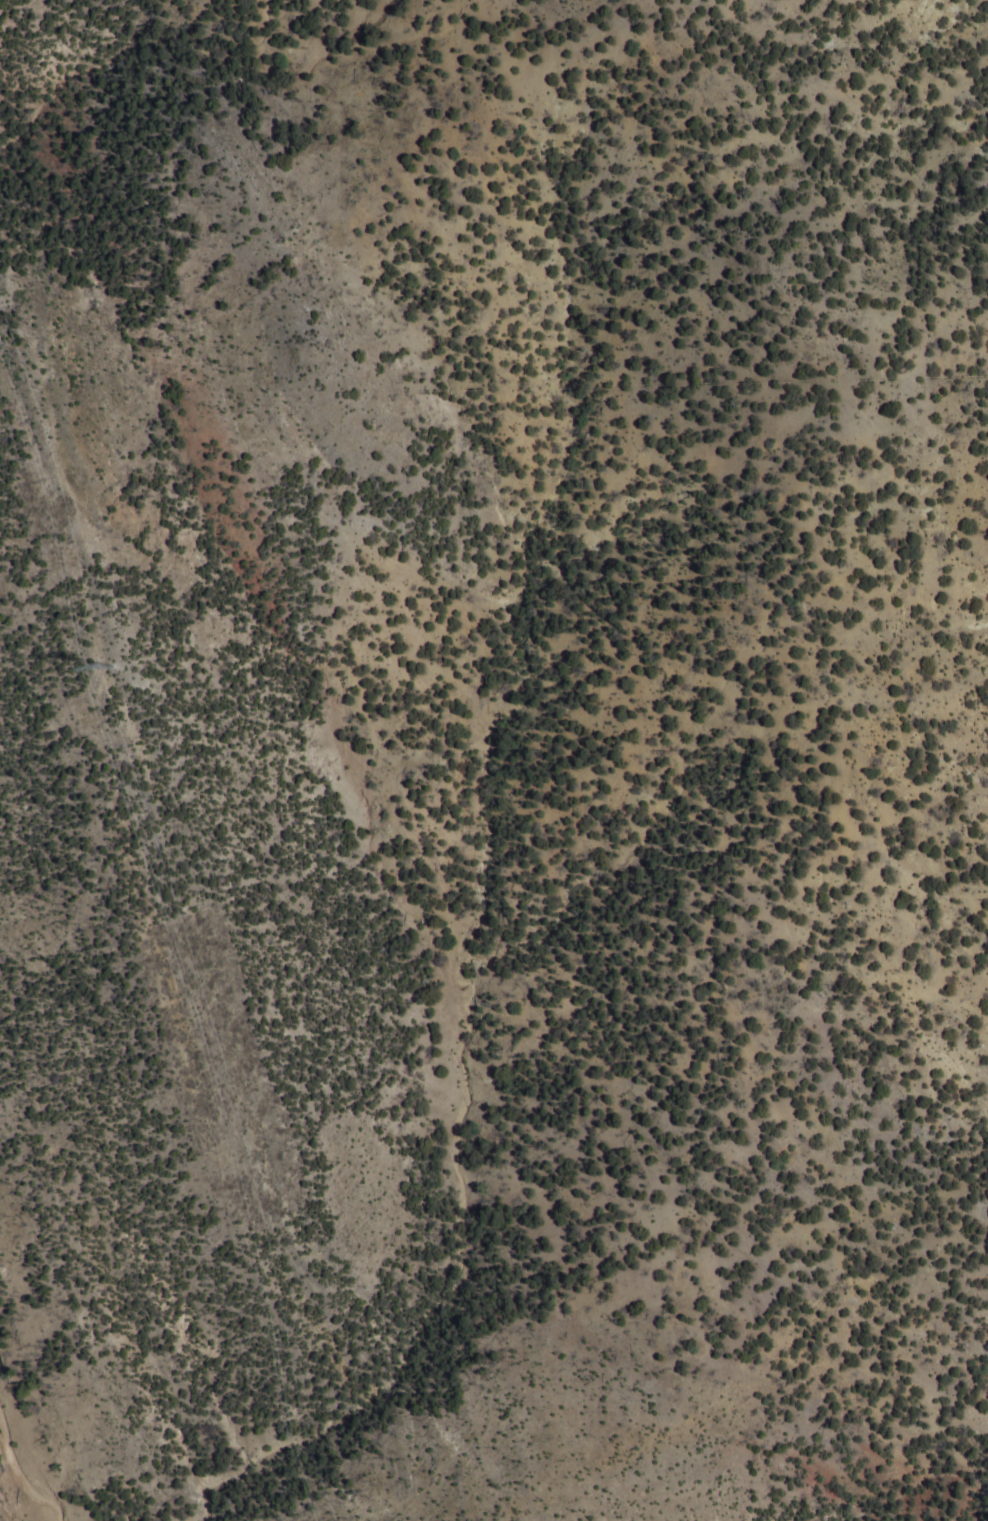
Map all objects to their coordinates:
power tower: (108, 663)

